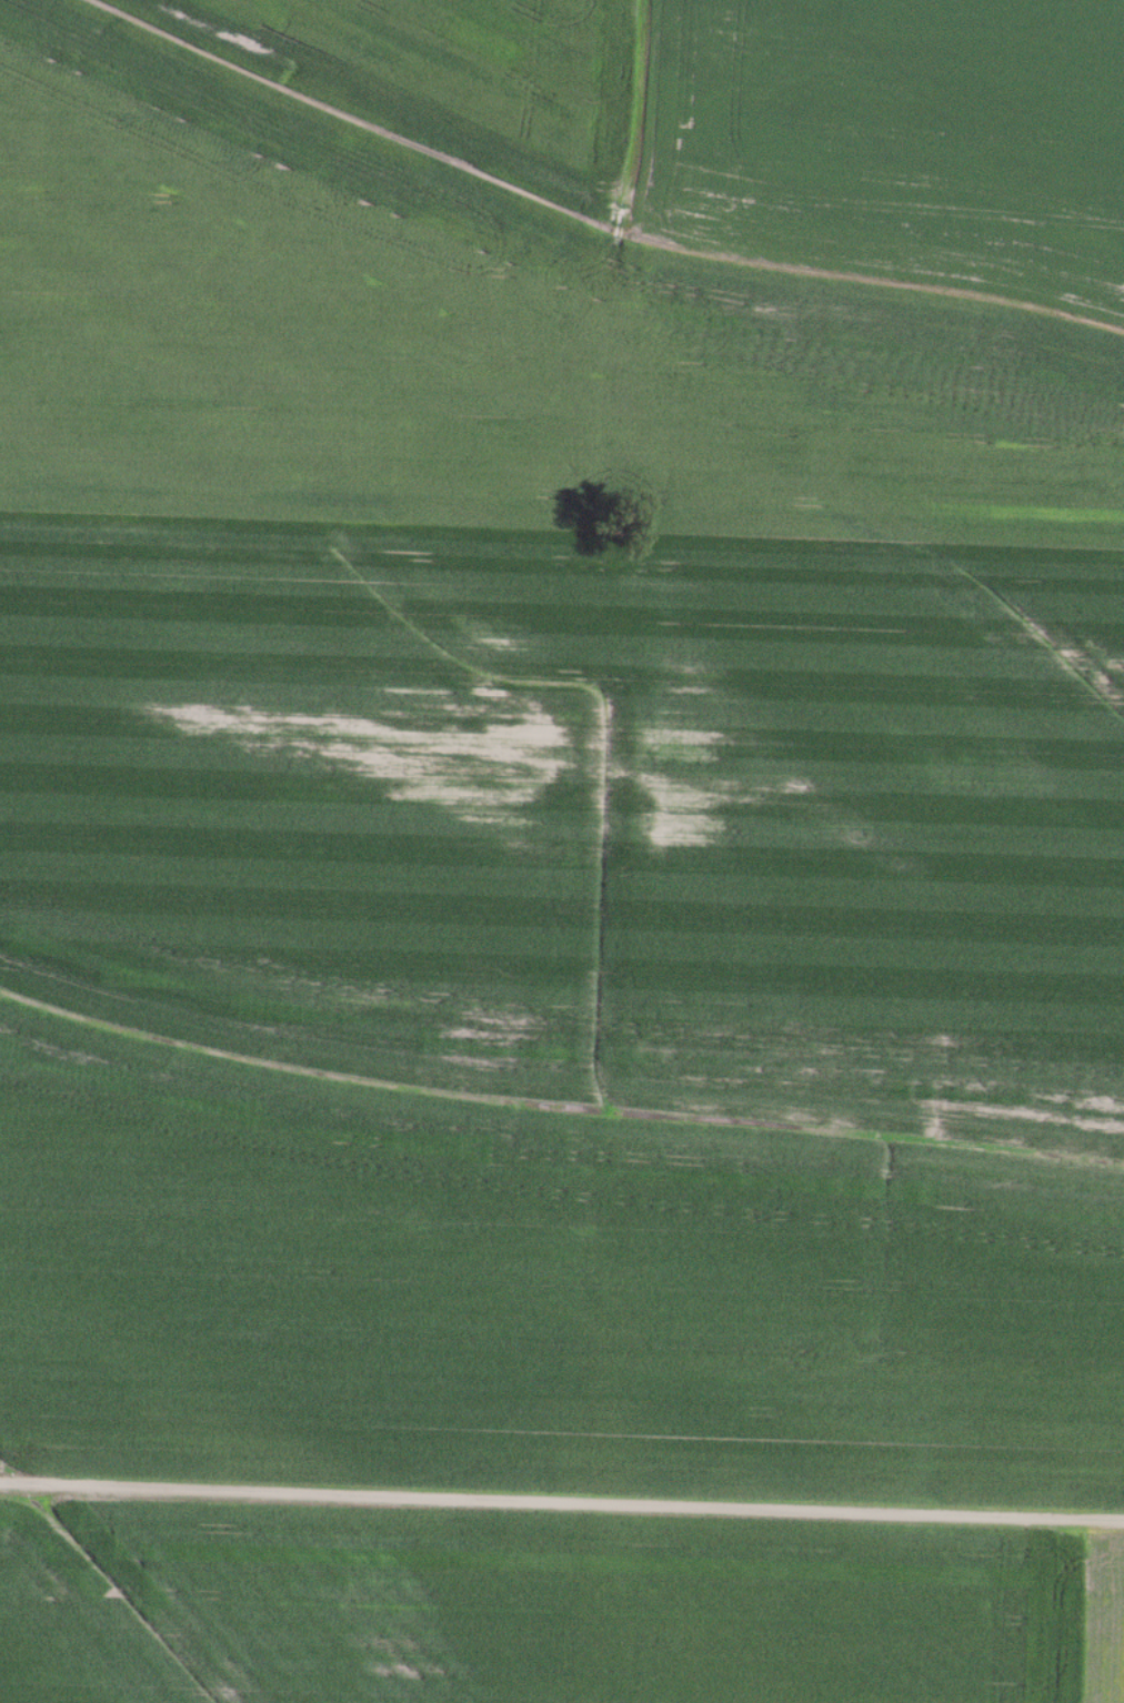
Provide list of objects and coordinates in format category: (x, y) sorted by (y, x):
road: (561, 1495)

